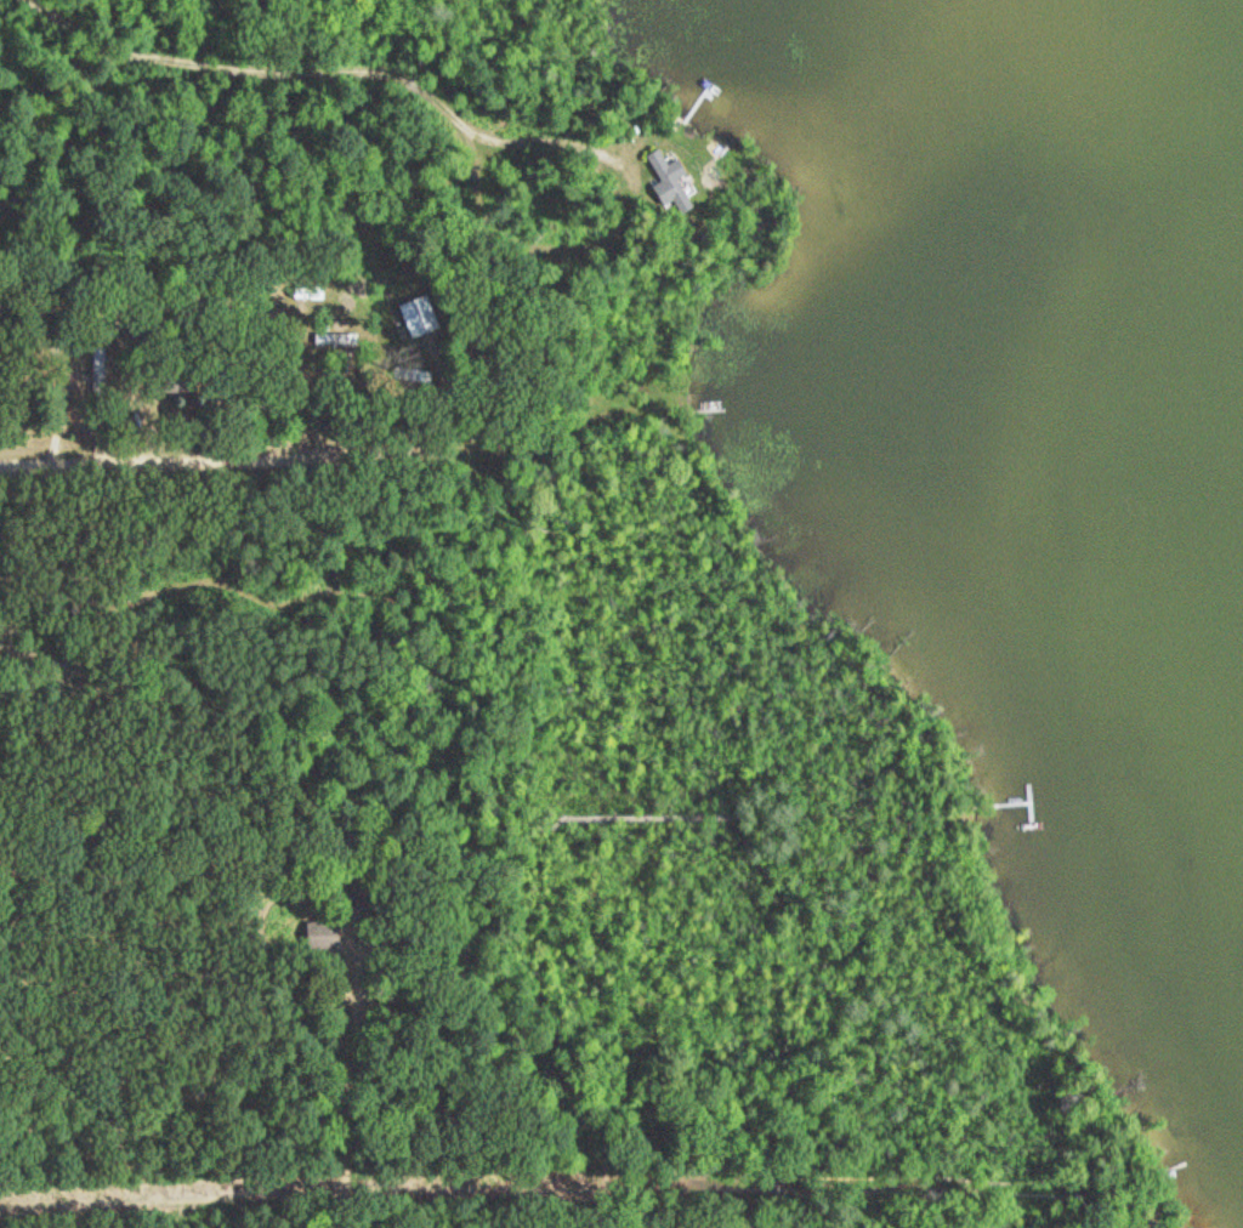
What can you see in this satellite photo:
building: (663, 167)
road: (189, 461)

